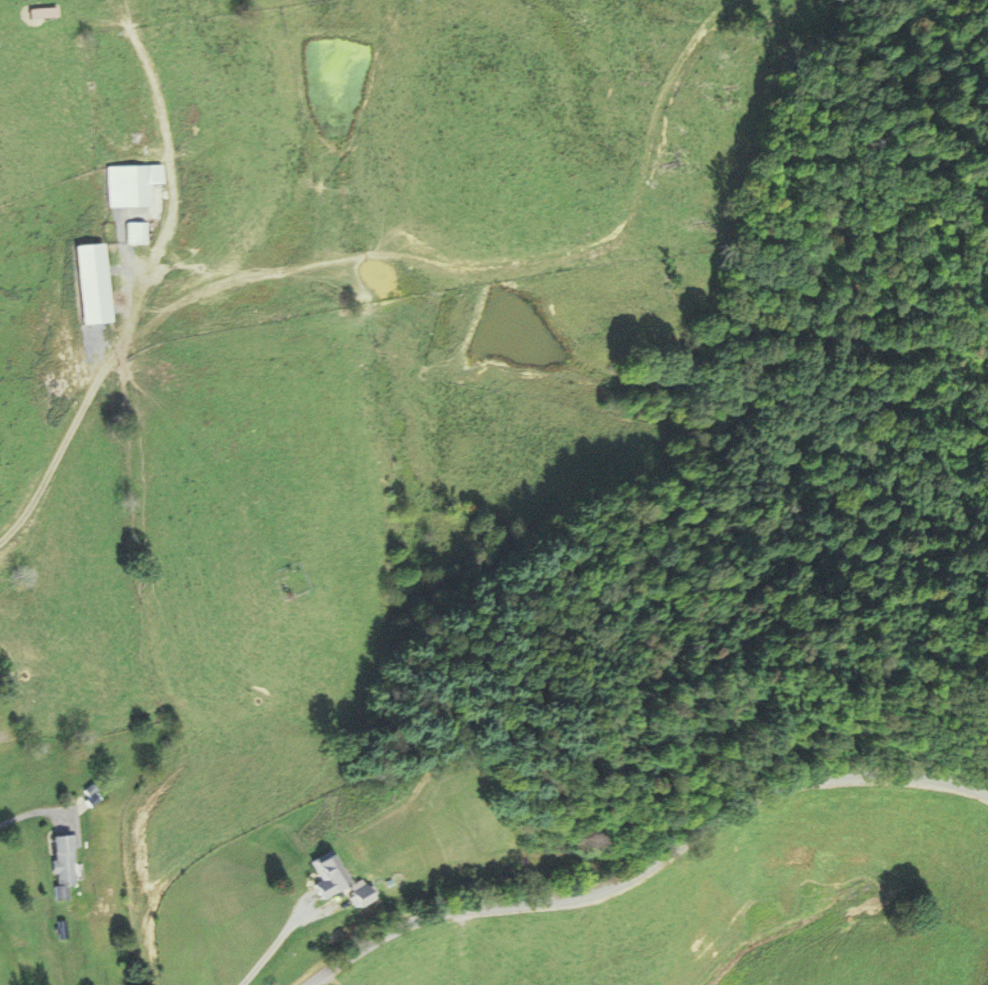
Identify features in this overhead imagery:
building: (39, 9)
building: (142, 178)
building: (134, 229)
road: (253, 274)
road: (6, 732)
road: (31, 809)
building: (61, 862)
road: (647, 864)
building: (324, 872)
road: (274, 943)

